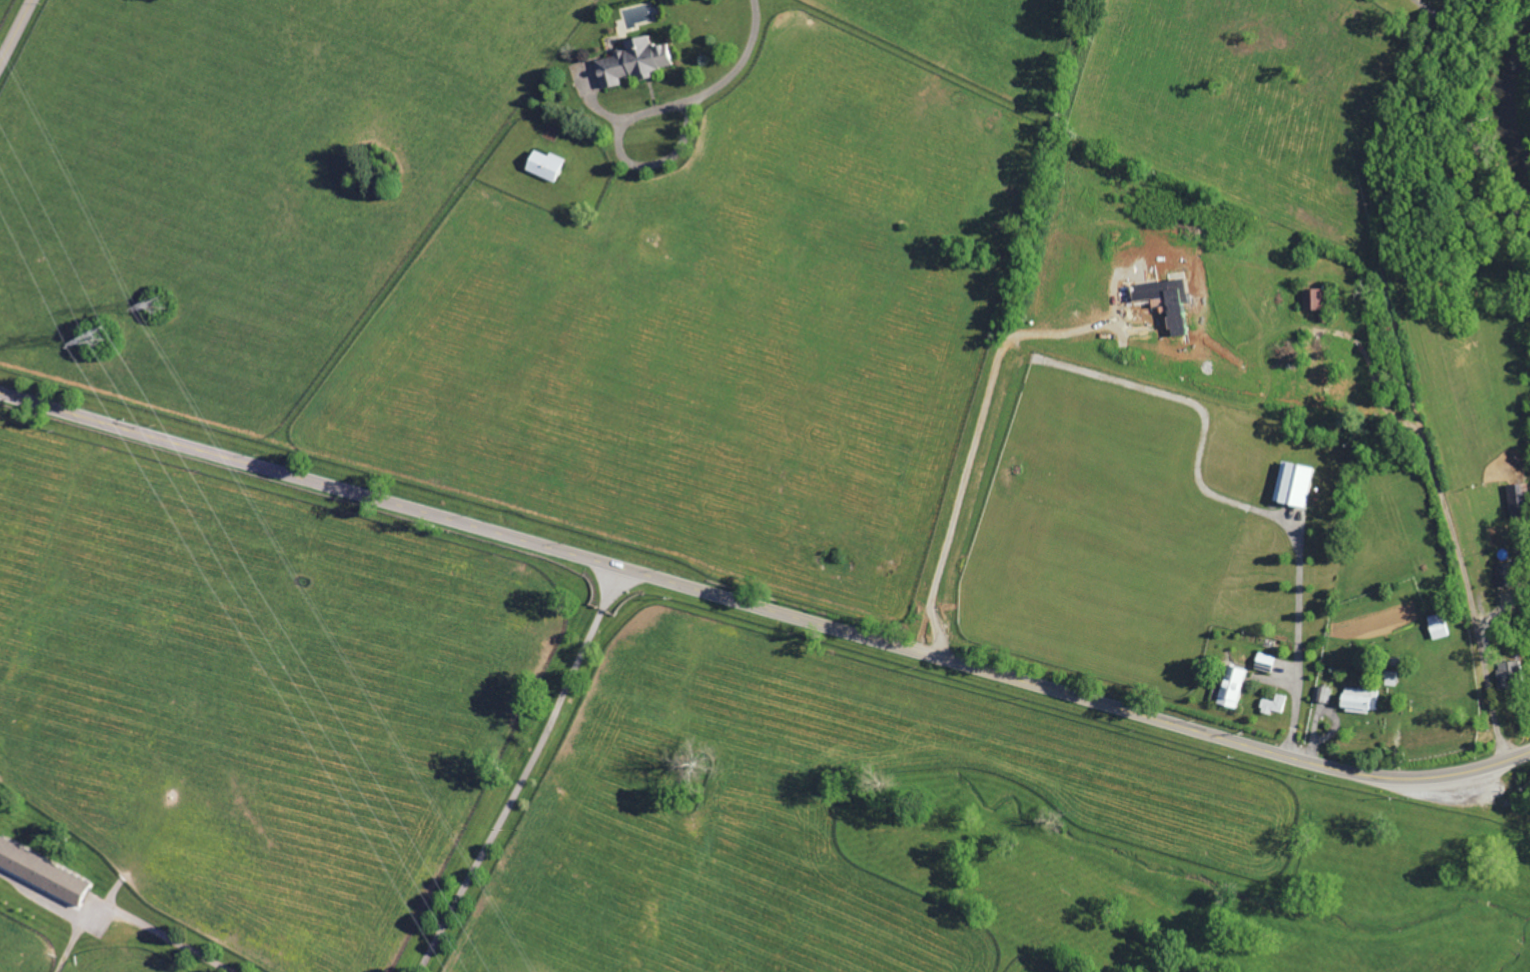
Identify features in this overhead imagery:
road: (18, 36)
building: (629, 62)
road: (740, 65)
road: (625, 160)
power tower: (160, 302)
power tower: (105, 340)
road: (1410, 378)
road: (1163, 404)
building: (1292, 483)
building: (1505, 574)
road: (762, 609)
building: (1510, 673)
building: (1391, 677)
building: (1230, 686)
building: (1359, 699)
building: (1274, 703)
road: (530, 773)
building: (40, 873)
road: (168, 937)

